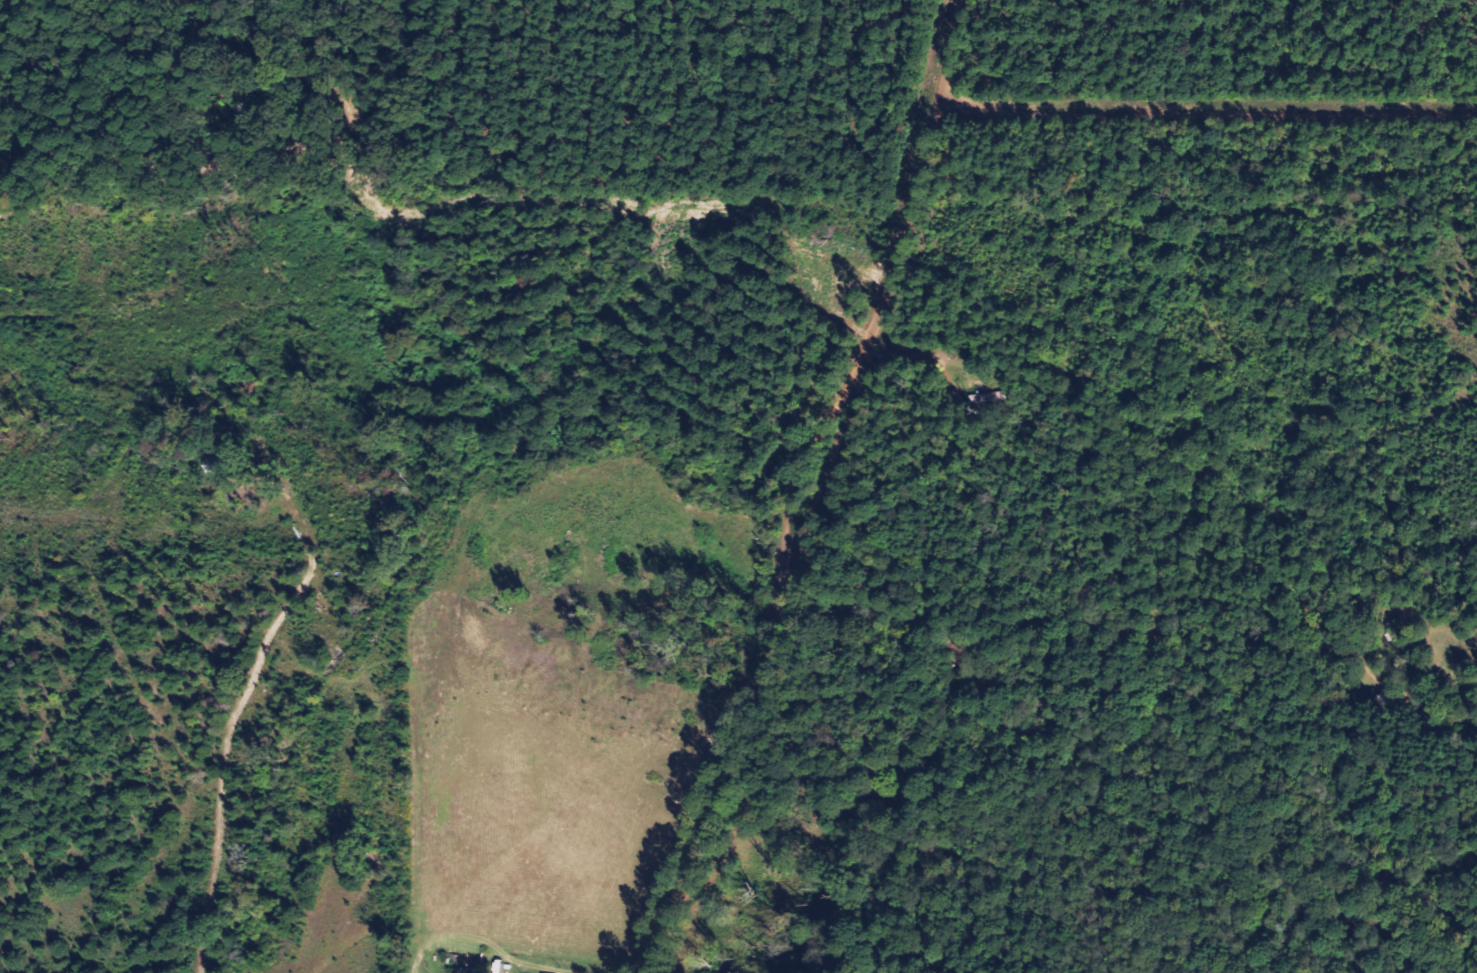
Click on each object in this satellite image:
road: (817, 486)

